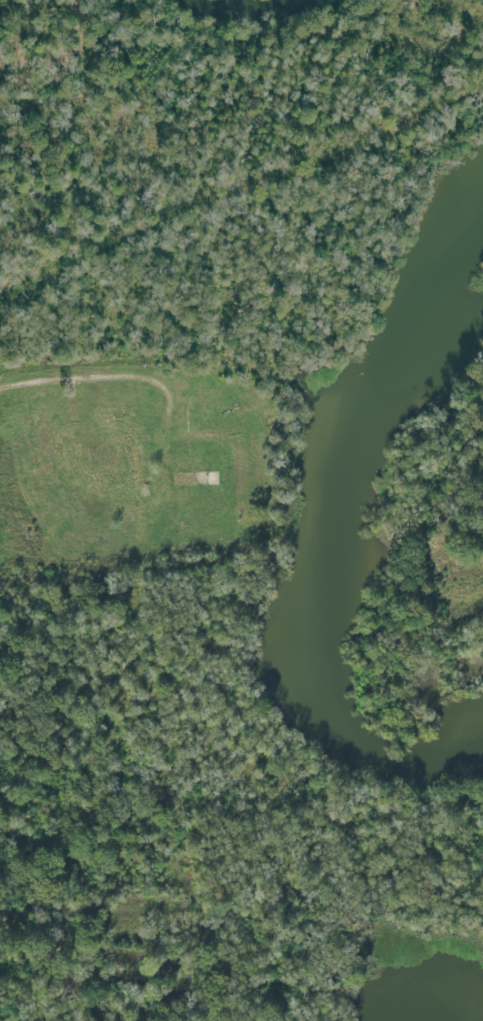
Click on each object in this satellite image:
road: (63, 379)
river: (317, 530)
road: (479, 599)
road: (63, 908)
river: (438, 1012)

